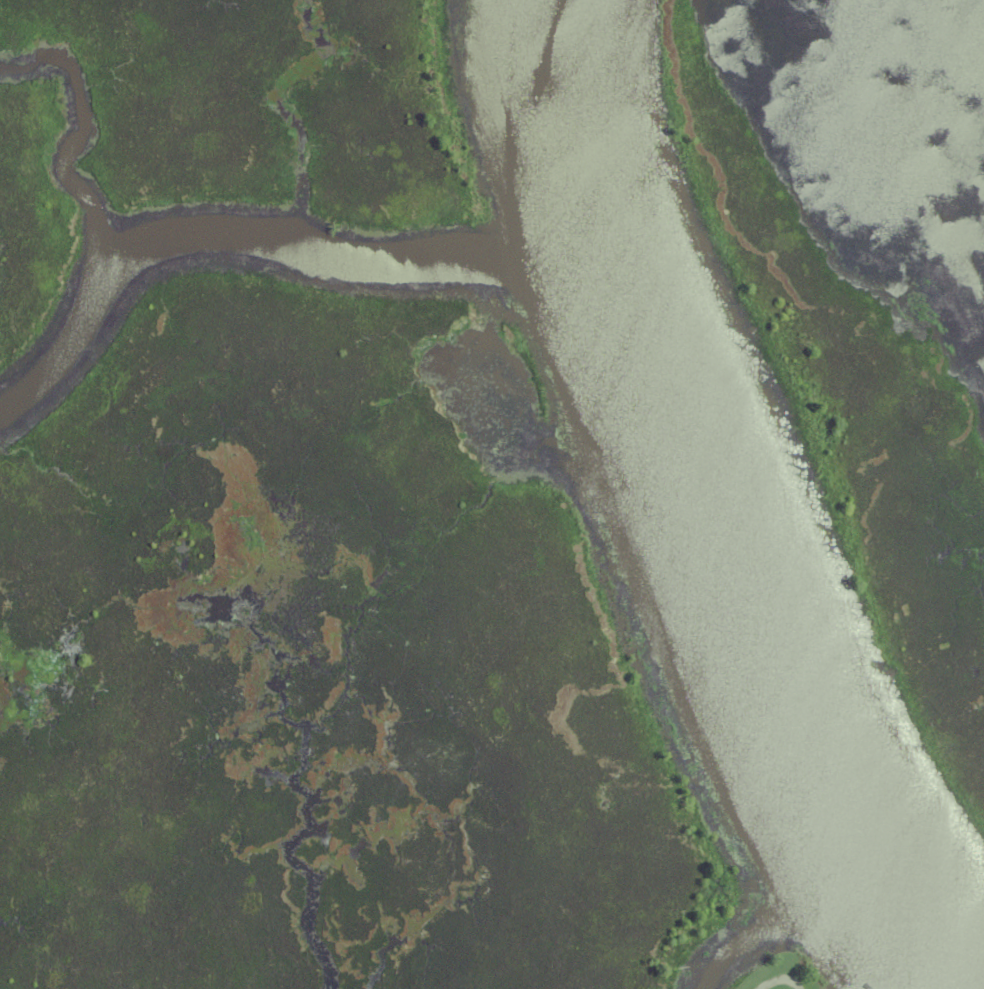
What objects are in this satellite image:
river: (261, 243)
river: (697, 522)
river: (779, 912)

